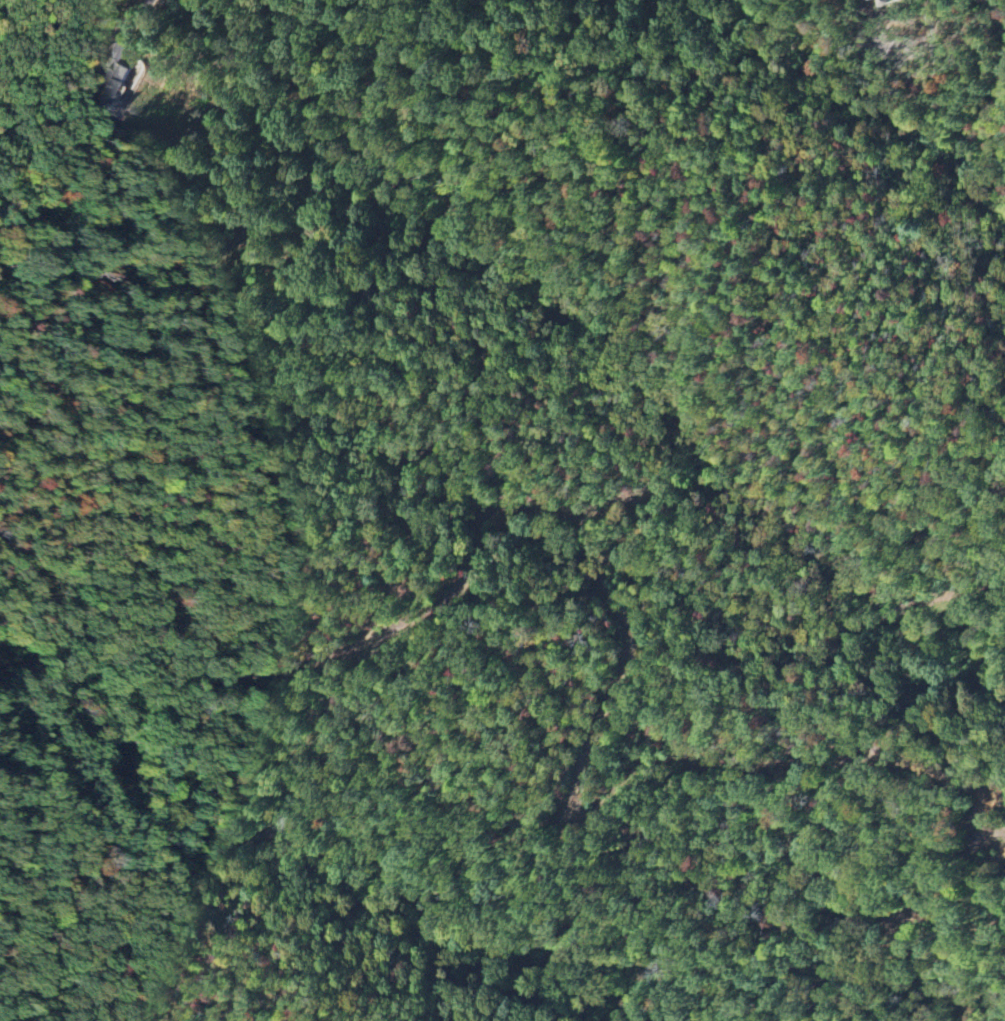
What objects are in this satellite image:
building: (890, 2)
road: (130, 27)
building: (109, 91)

